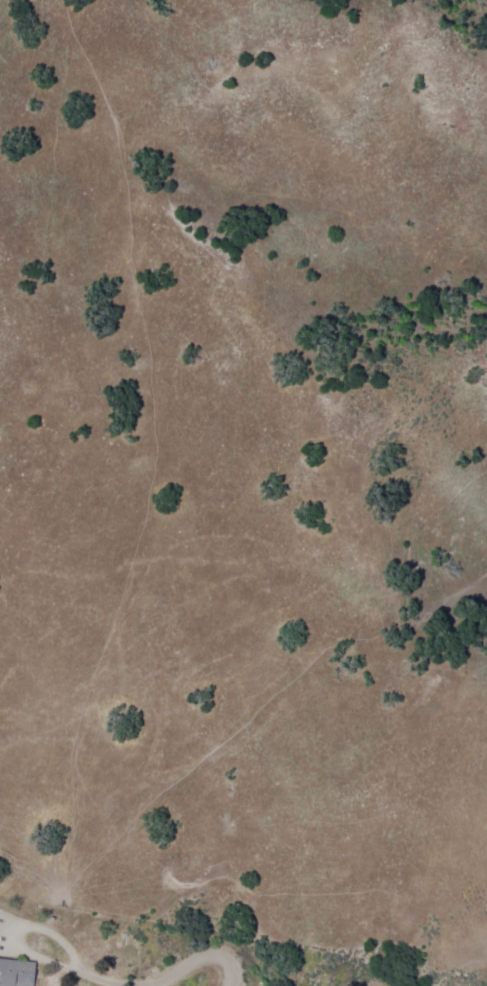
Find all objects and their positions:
building: (17, 972)
road: (171, 972)

